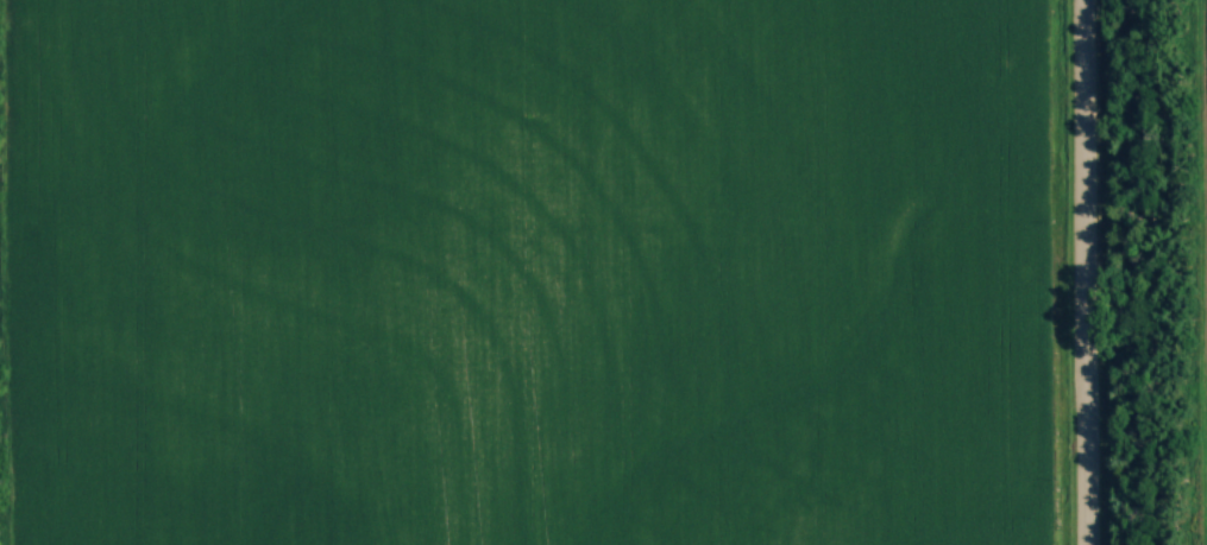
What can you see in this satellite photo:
road: (1081, 272)

